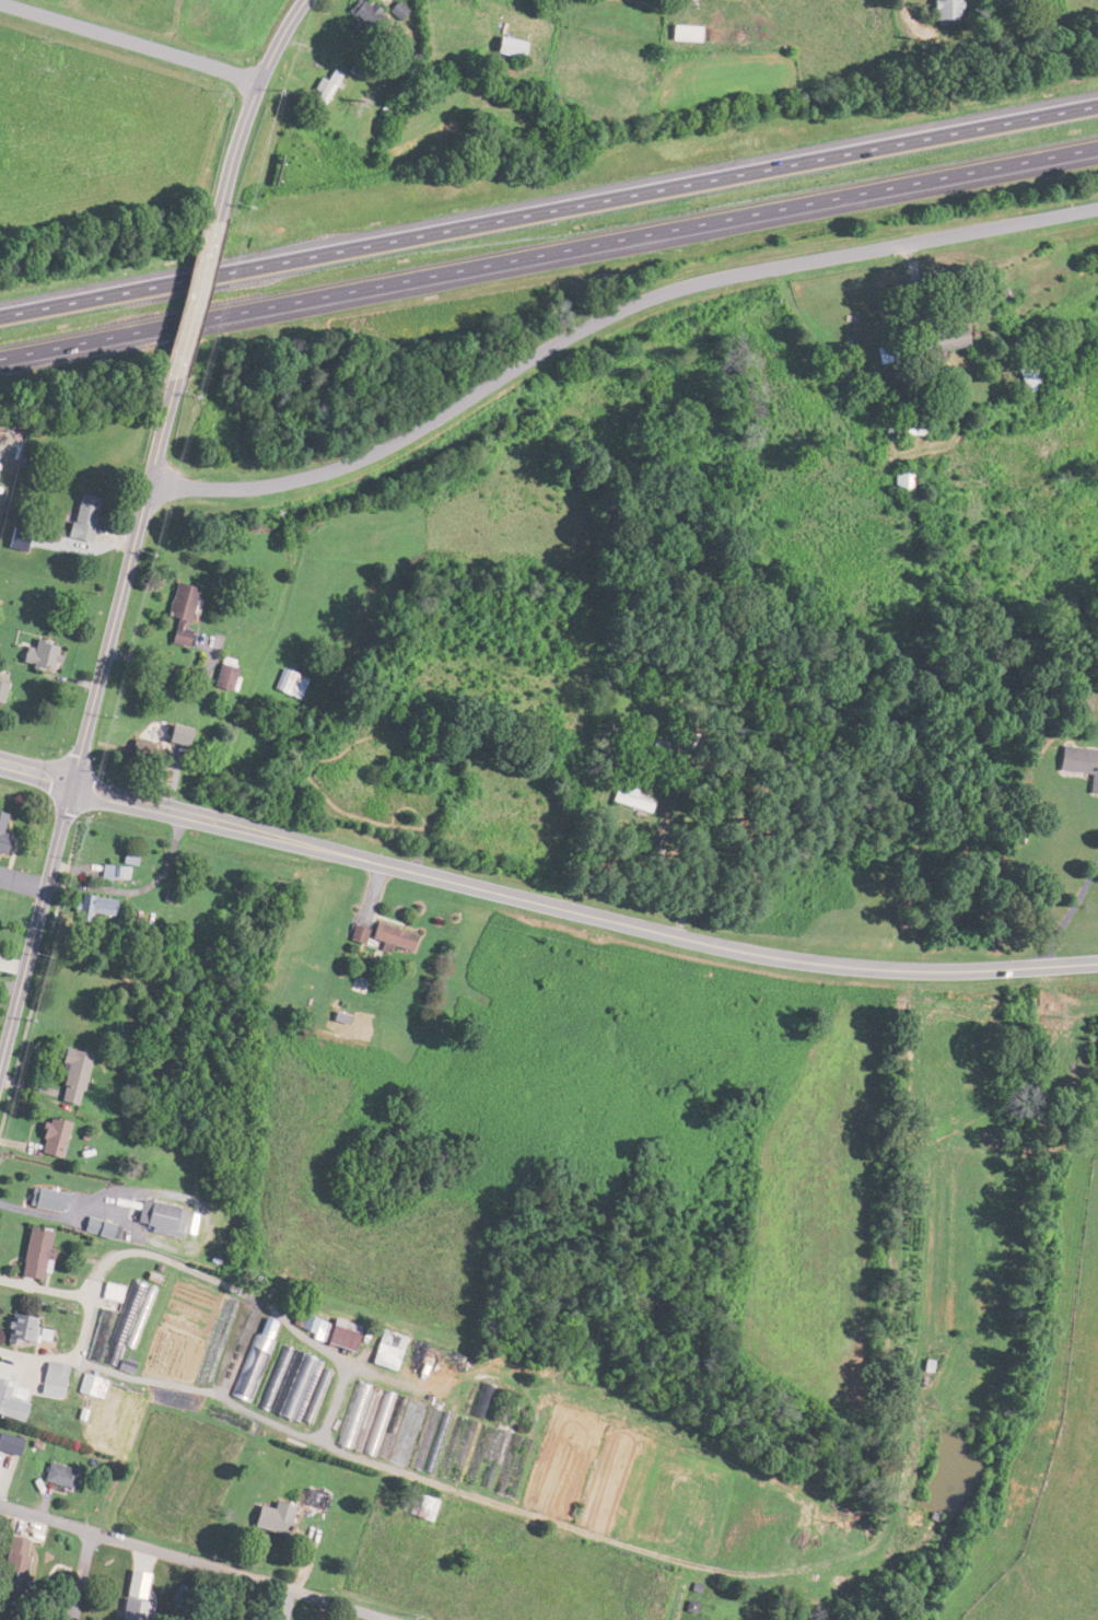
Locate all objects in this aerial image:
building: (945, 9)
building: (363, 16)
road: (906, 16)
building: (682, 33)
road: (130, 40)
building: (323, 88)
road: (249, 108)
road: (548, 209)
road: (548, 252)
road: (195, 303)
road: (607, 312)
building: (938, 338)
building: (1027, 376)
building: (902, 426)
building: (950, 463)
building: (892, 479)
building: (78, 516)
building: (8, 535)
building: (176, 611)
building: (33, 655)
building: (221, 674)
building: (289, 684)
building: (998, 685)
road: (87, 723)
building: (139, 750)
building: (1077, 766)
building: (629, 800)
building: (126, 858)
building: (112, 871)
road: (544, 898)
building: (93, 905)
road: (1067, 913)
building: (352, 932)
building: (387, 935)
building: (69, 1068)
building: (49, 1134)
building: (46, 1199)
building: (159, 1219)
building: (95, 1227)
building: (32, 1252)
building: (108, 1292)
building: (126, 1313)
road: (84, 1320)
building: (20, 1328)
building: (324, 1329)
building: (385, 1349)
building: (254, 1359)
building: (49, 1376)
building: (294, 1384)
building: (9, 1401)
building: (97, 1408)
building: (124, 1420)
building: (5, 1450)
building: (57, 1472)
building: (312, 1497)
building: (270, 1516)
road: (195, 1561)
building: (10, 1564)
road: (83, 1575)
building: (131, 1609)

